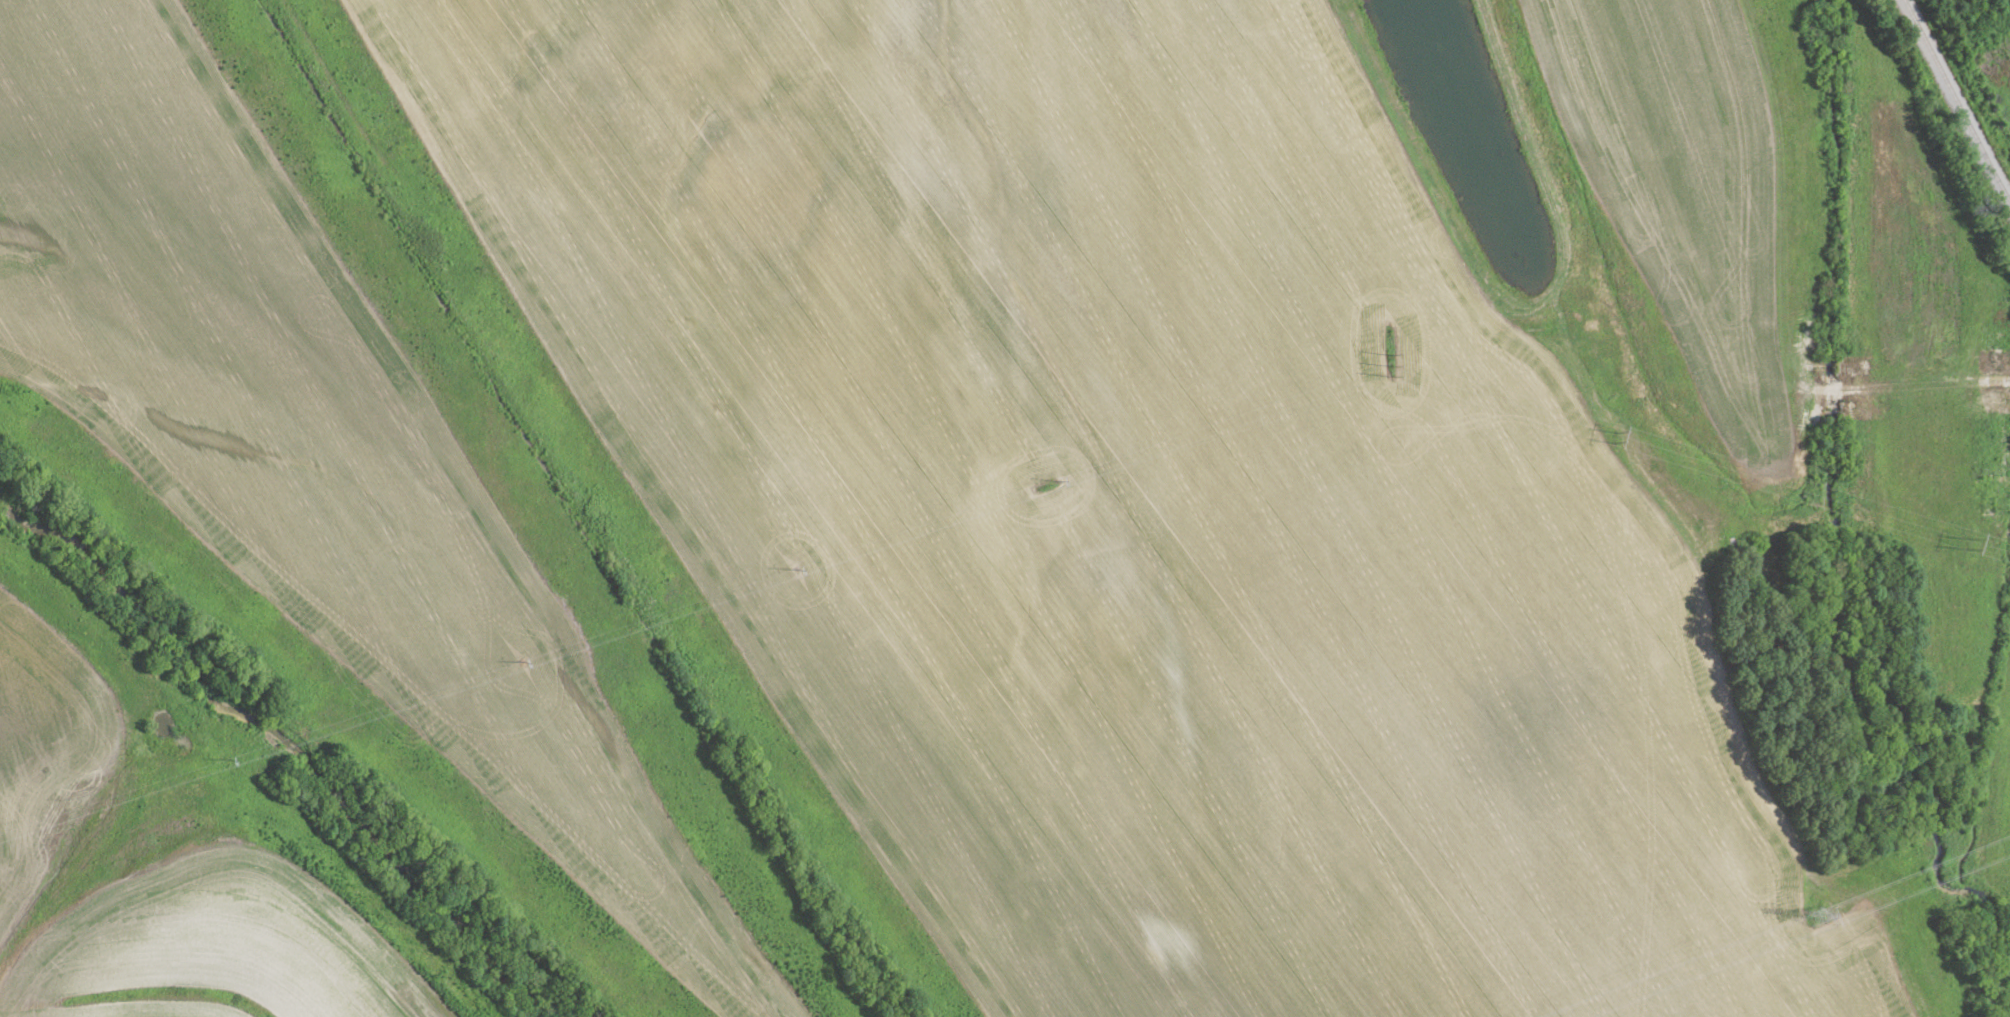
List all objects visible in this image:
railway: (1957, 101)
power tower: (1815, 913)

